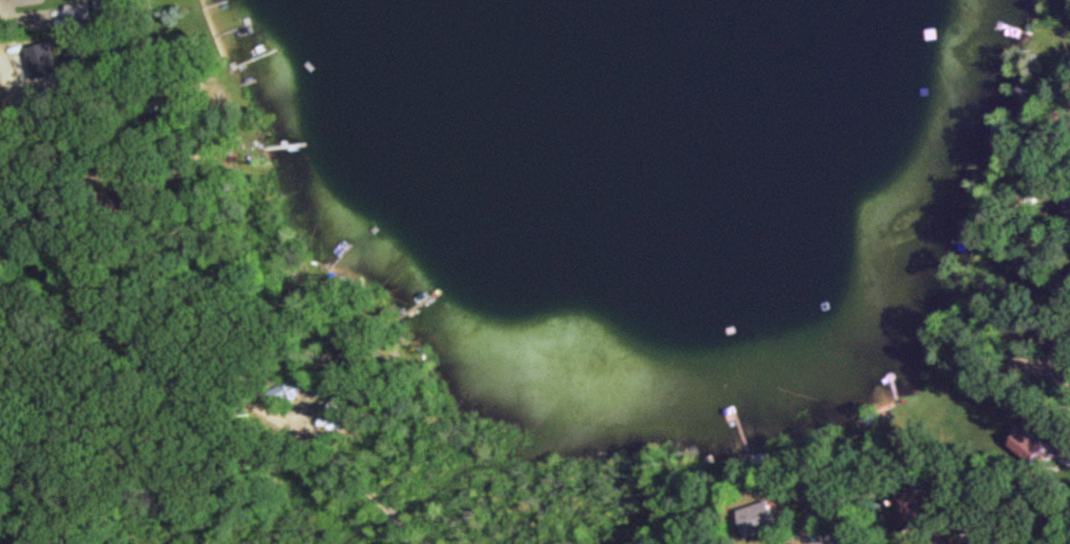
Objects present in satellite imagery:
building: (122, 8)
building: (79, 14)
road: (14, 124)
road: (205, 377)
road: (398, 513)
road: (819, 532)
road: (417, 533)
road: (1065, 533)

